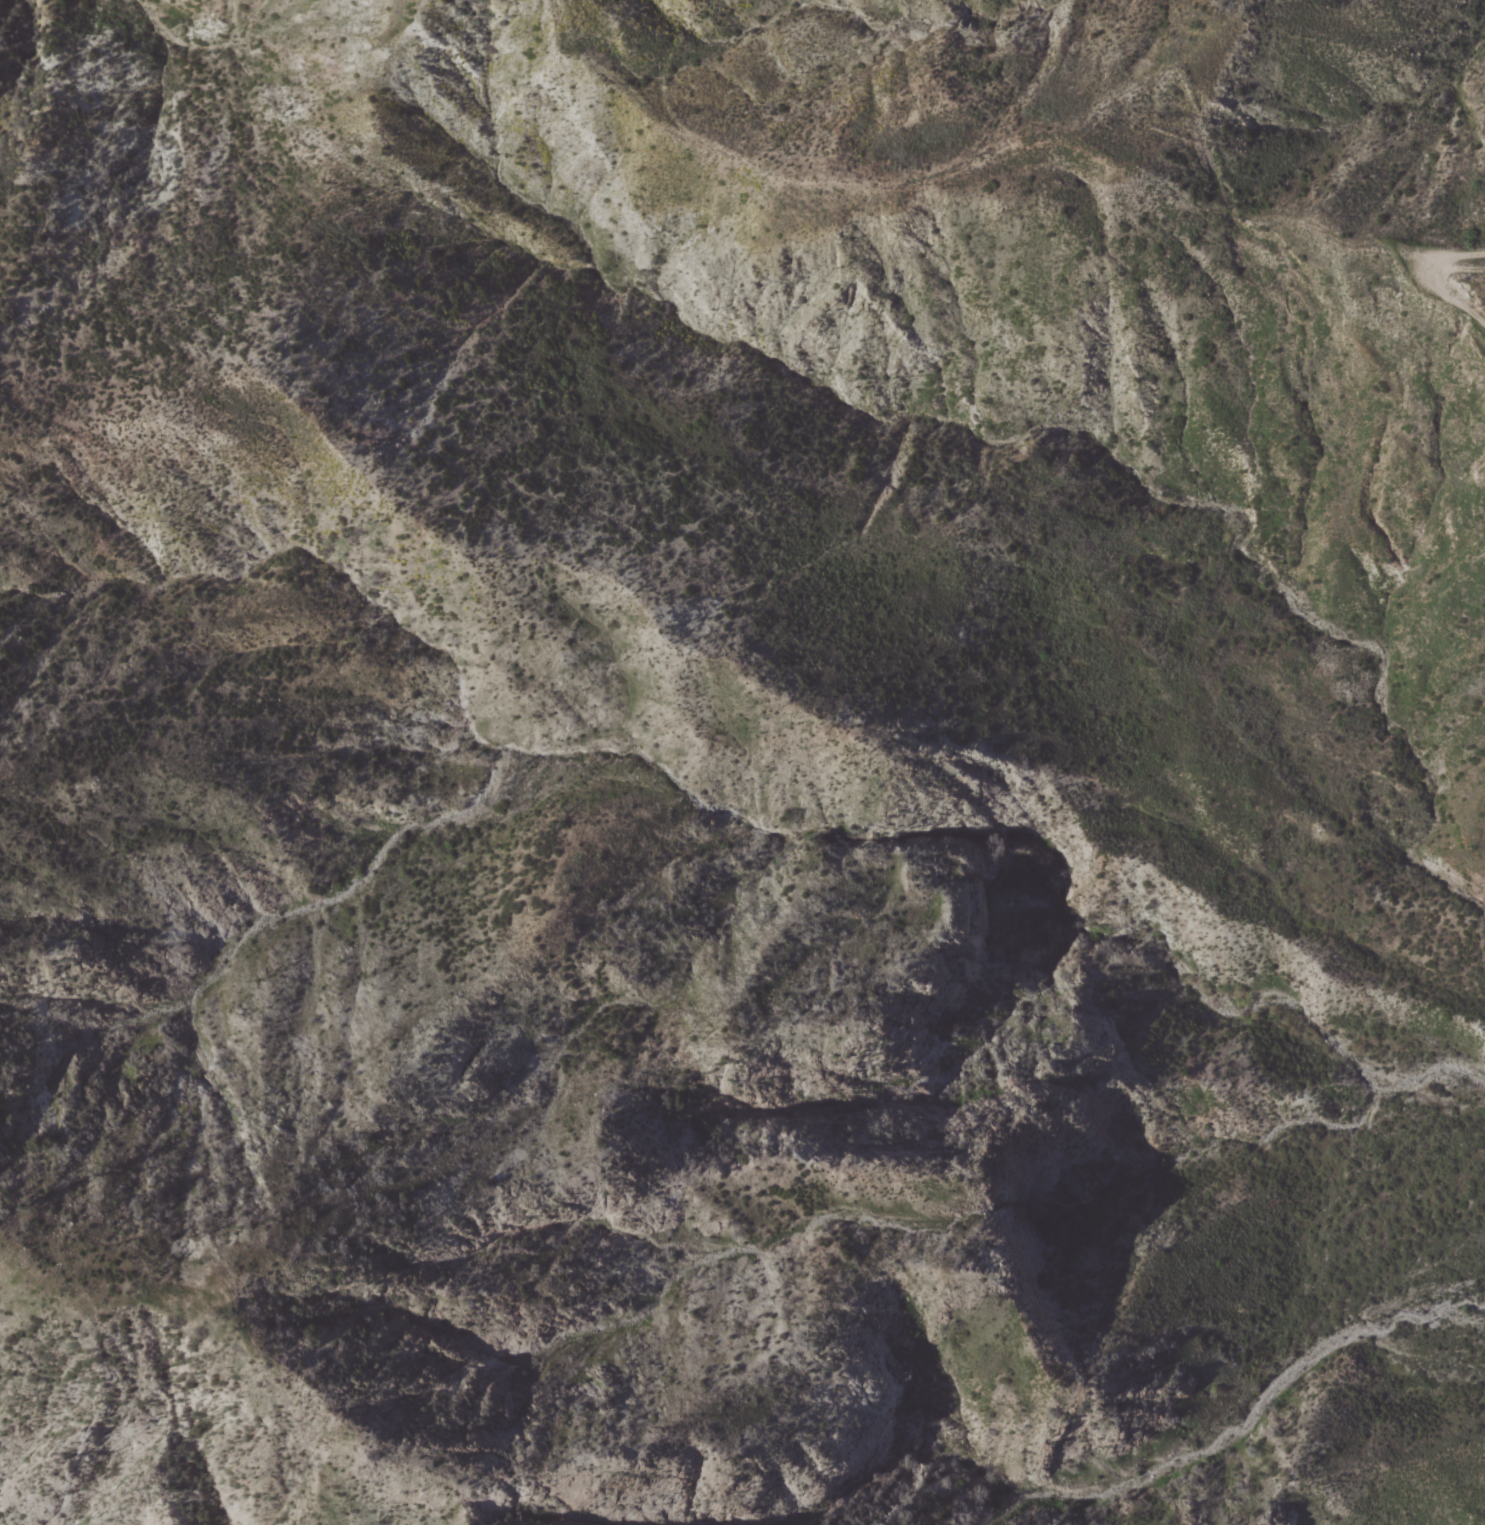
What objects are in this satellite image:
road: (1459, 268)
road: (1434, 280)

